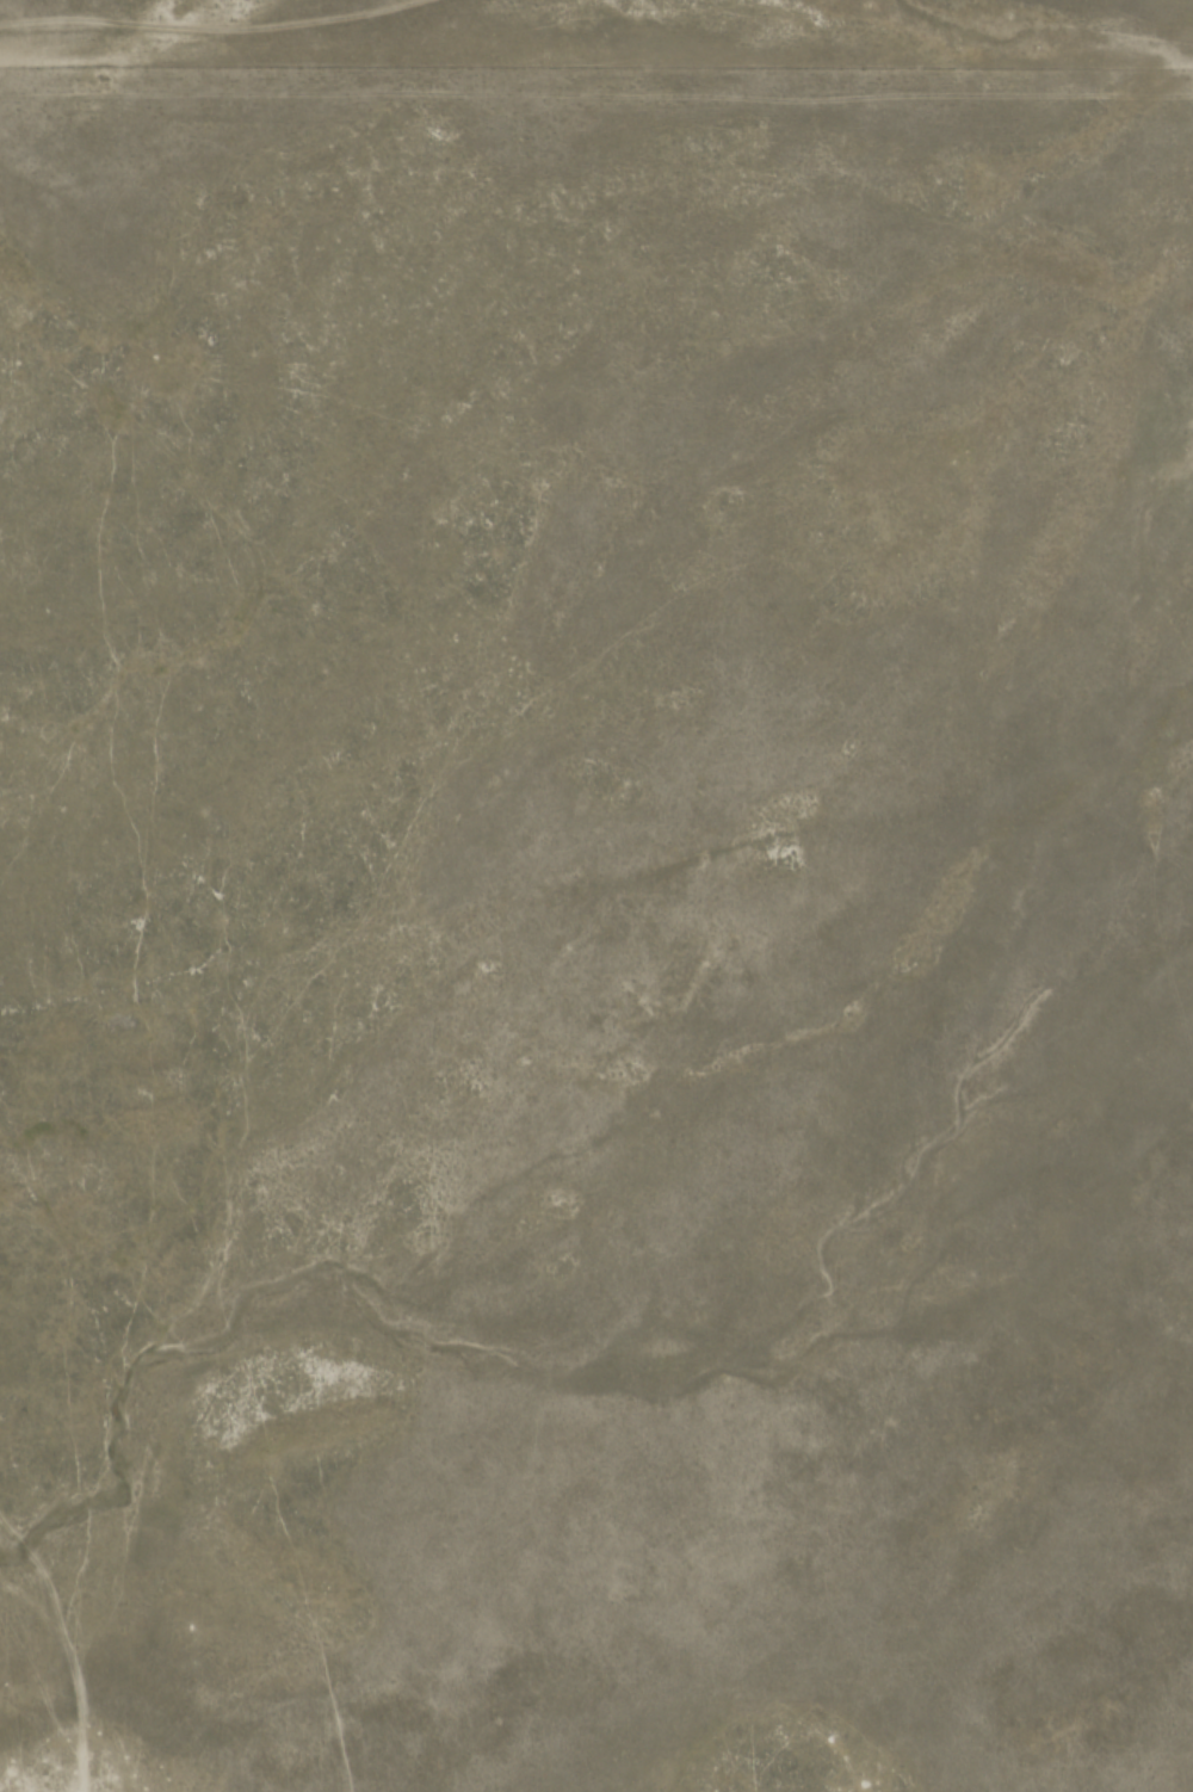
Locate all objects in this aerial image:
road: (68, 1639)

